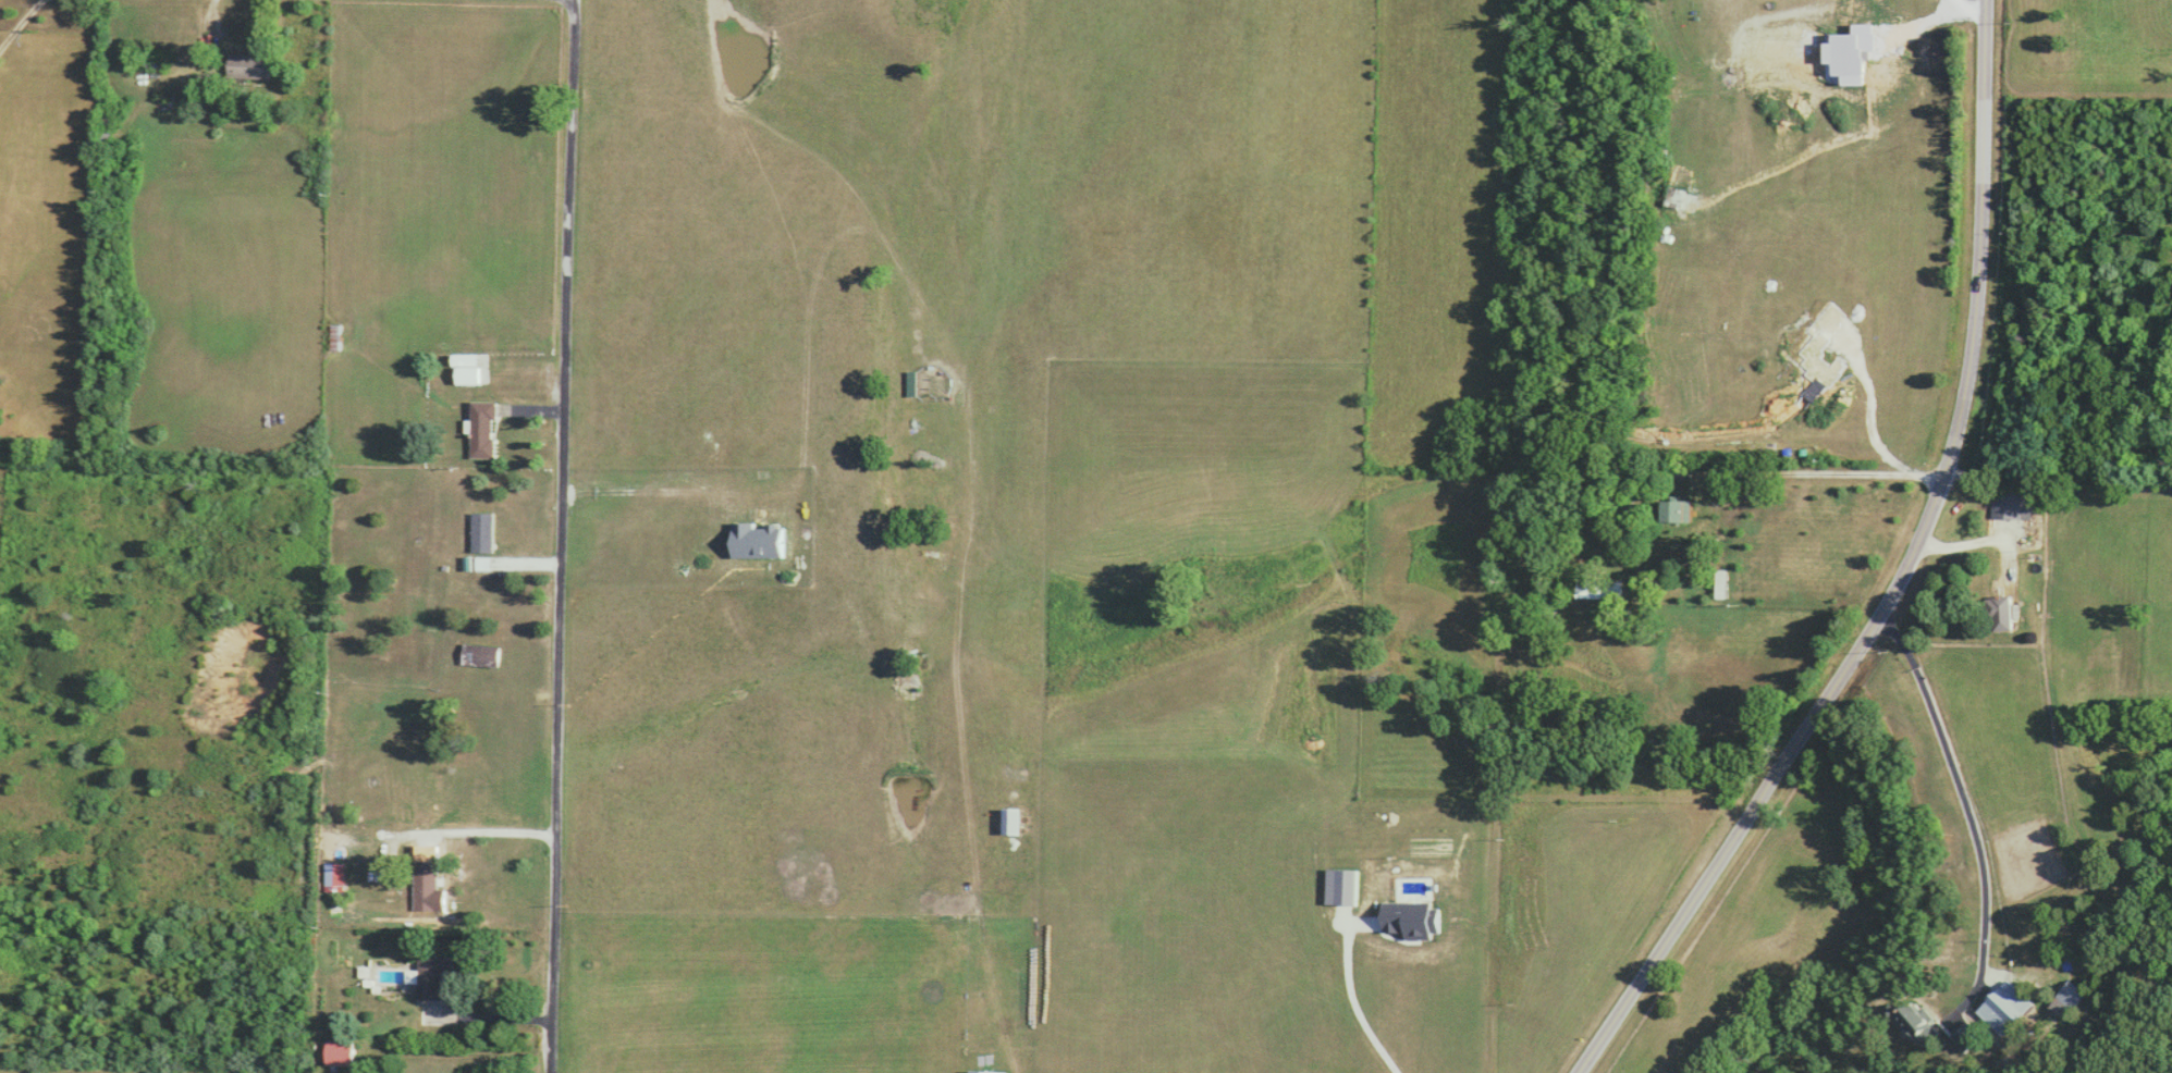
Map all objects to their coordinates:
road: (1969, 8)
road: (24, 28)
building: (251, 66)
building: (335, 337)
building: (469, 374)
building: (483, 429)
road: (1881, 479)
building: (1819, 495)
building: (2010, 506)
building: (1676, 511)
building: (482, 531)
road: (566, 535)
road: (2000, 545)
road: (1909, 578)
building: (1596, 590)
building: (1997, 615)
building: (474, 654)
building: (428, 779)
road: (1974, 823)
road: (431, 836)
building: (389, 868)
building: (338, 877)
building: (427, 877)
building: (435, 975)
building: (2003, 1009)
road: (494, 1015)
building: (341, 1052)

